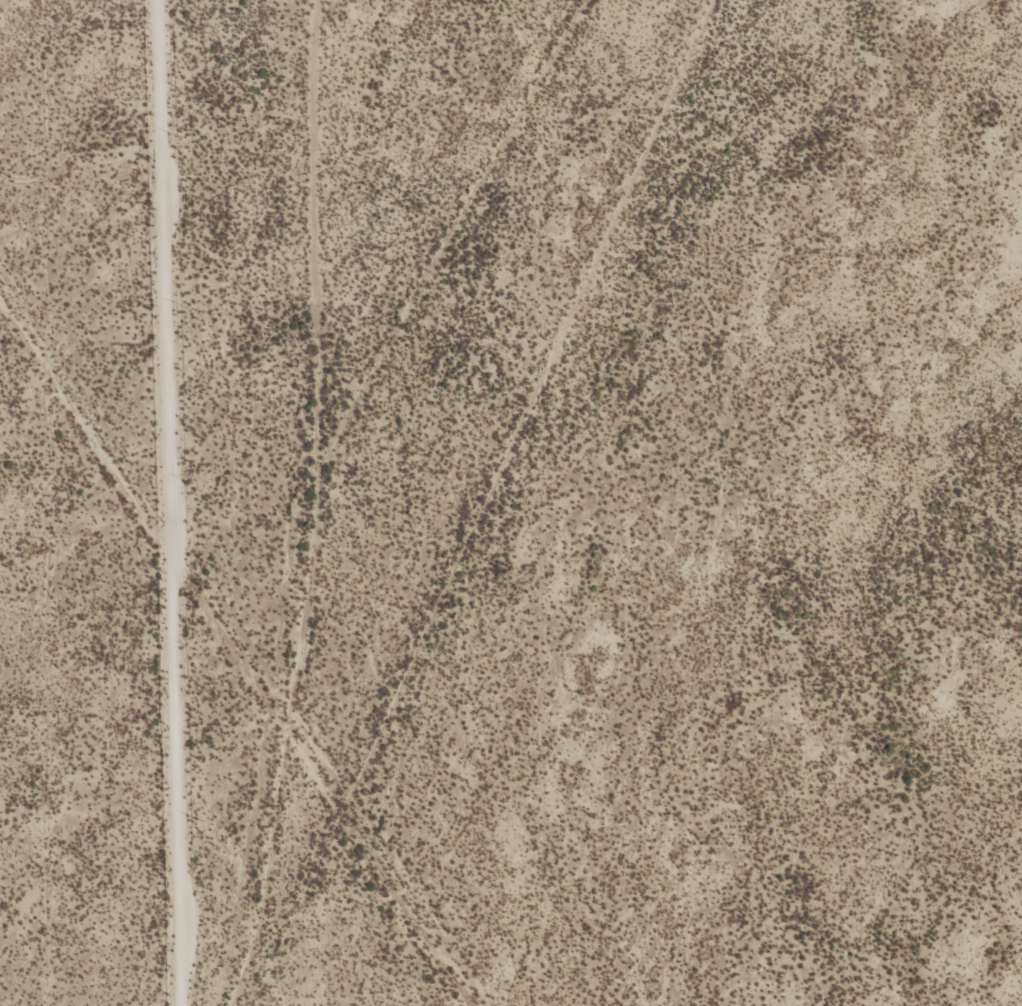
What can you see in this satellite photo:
road: (340, 508)

